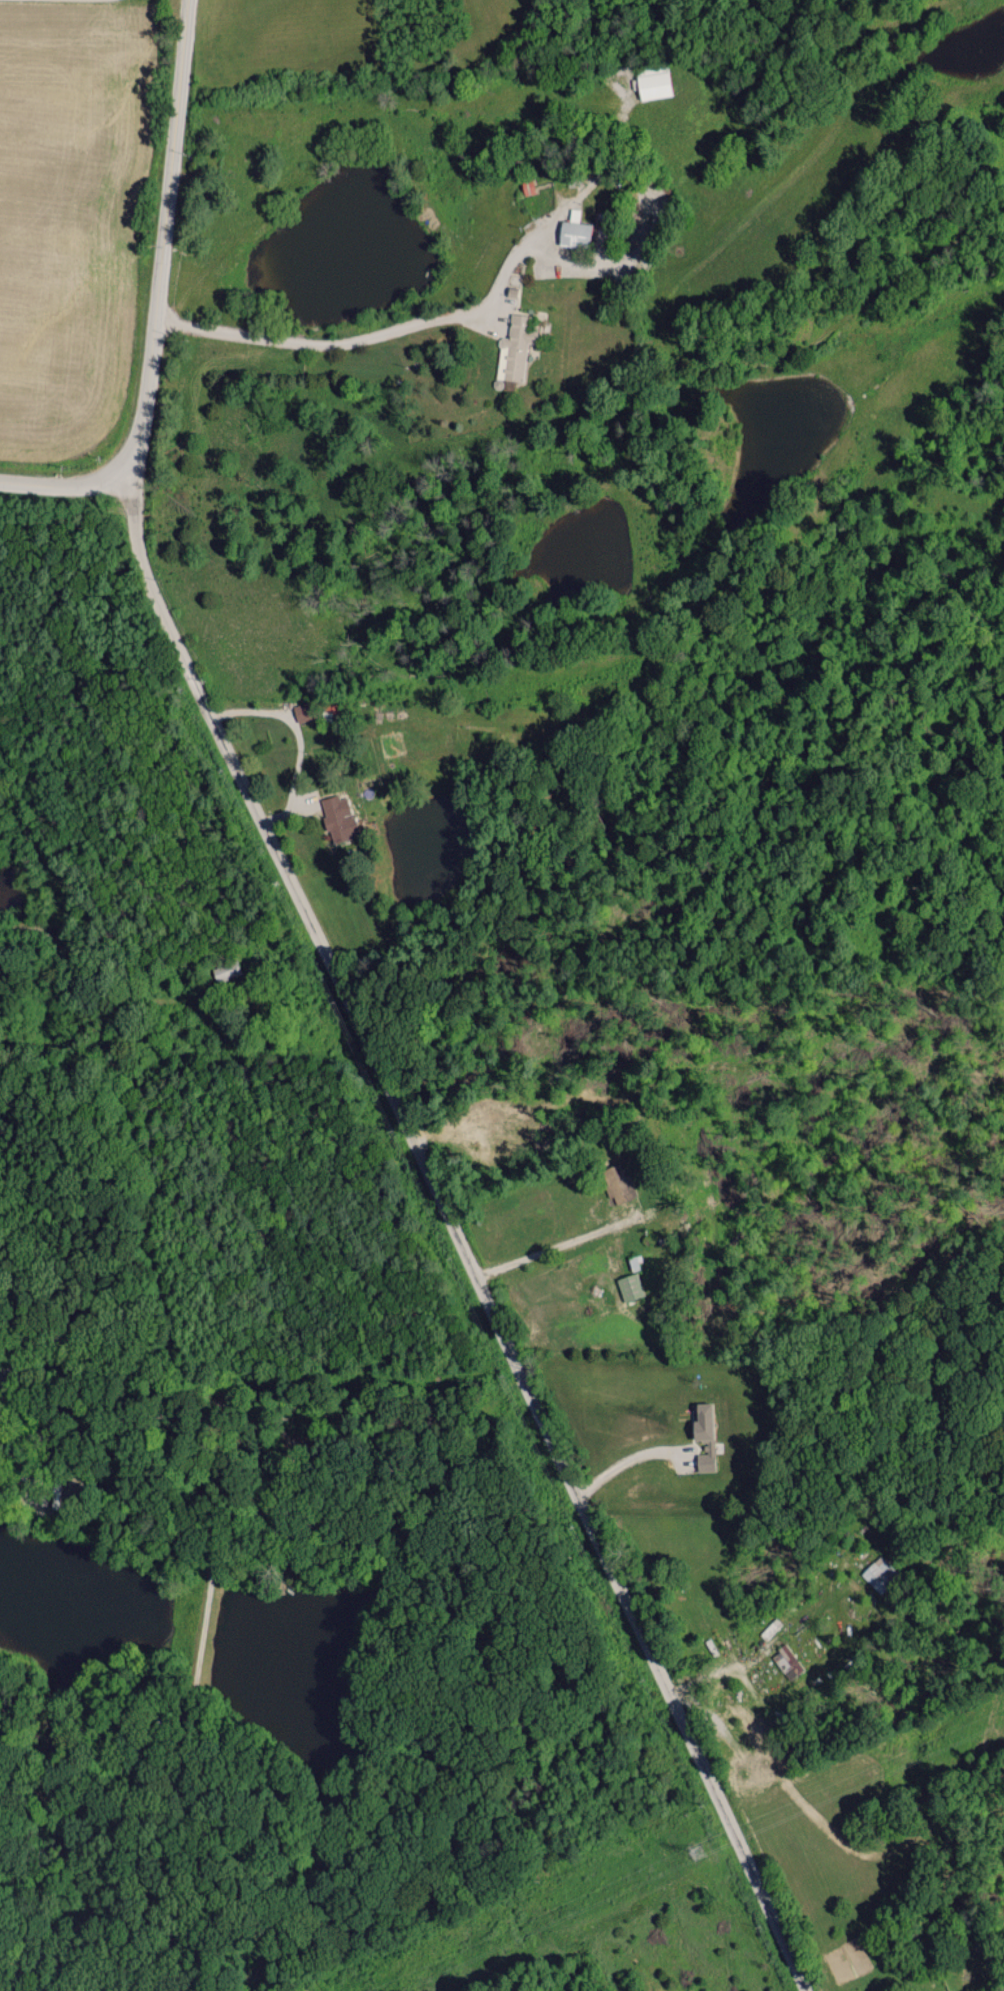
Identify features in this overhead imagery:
building: (652, 84)
building: (527, 186)
building: (573, 229)
road: (163, 237)
road: (367, 336)
building: (514, 347)
road: (60, 482)
building: (302, 711)
building: (338, 817)
building: (229, 970)
road: (423, 1158)
building: (630, 1286)
building: (703, 1435)
road: (631, 1457)
building: (881, 1574)
building: (786, 1661)
road: (774, 1915)

